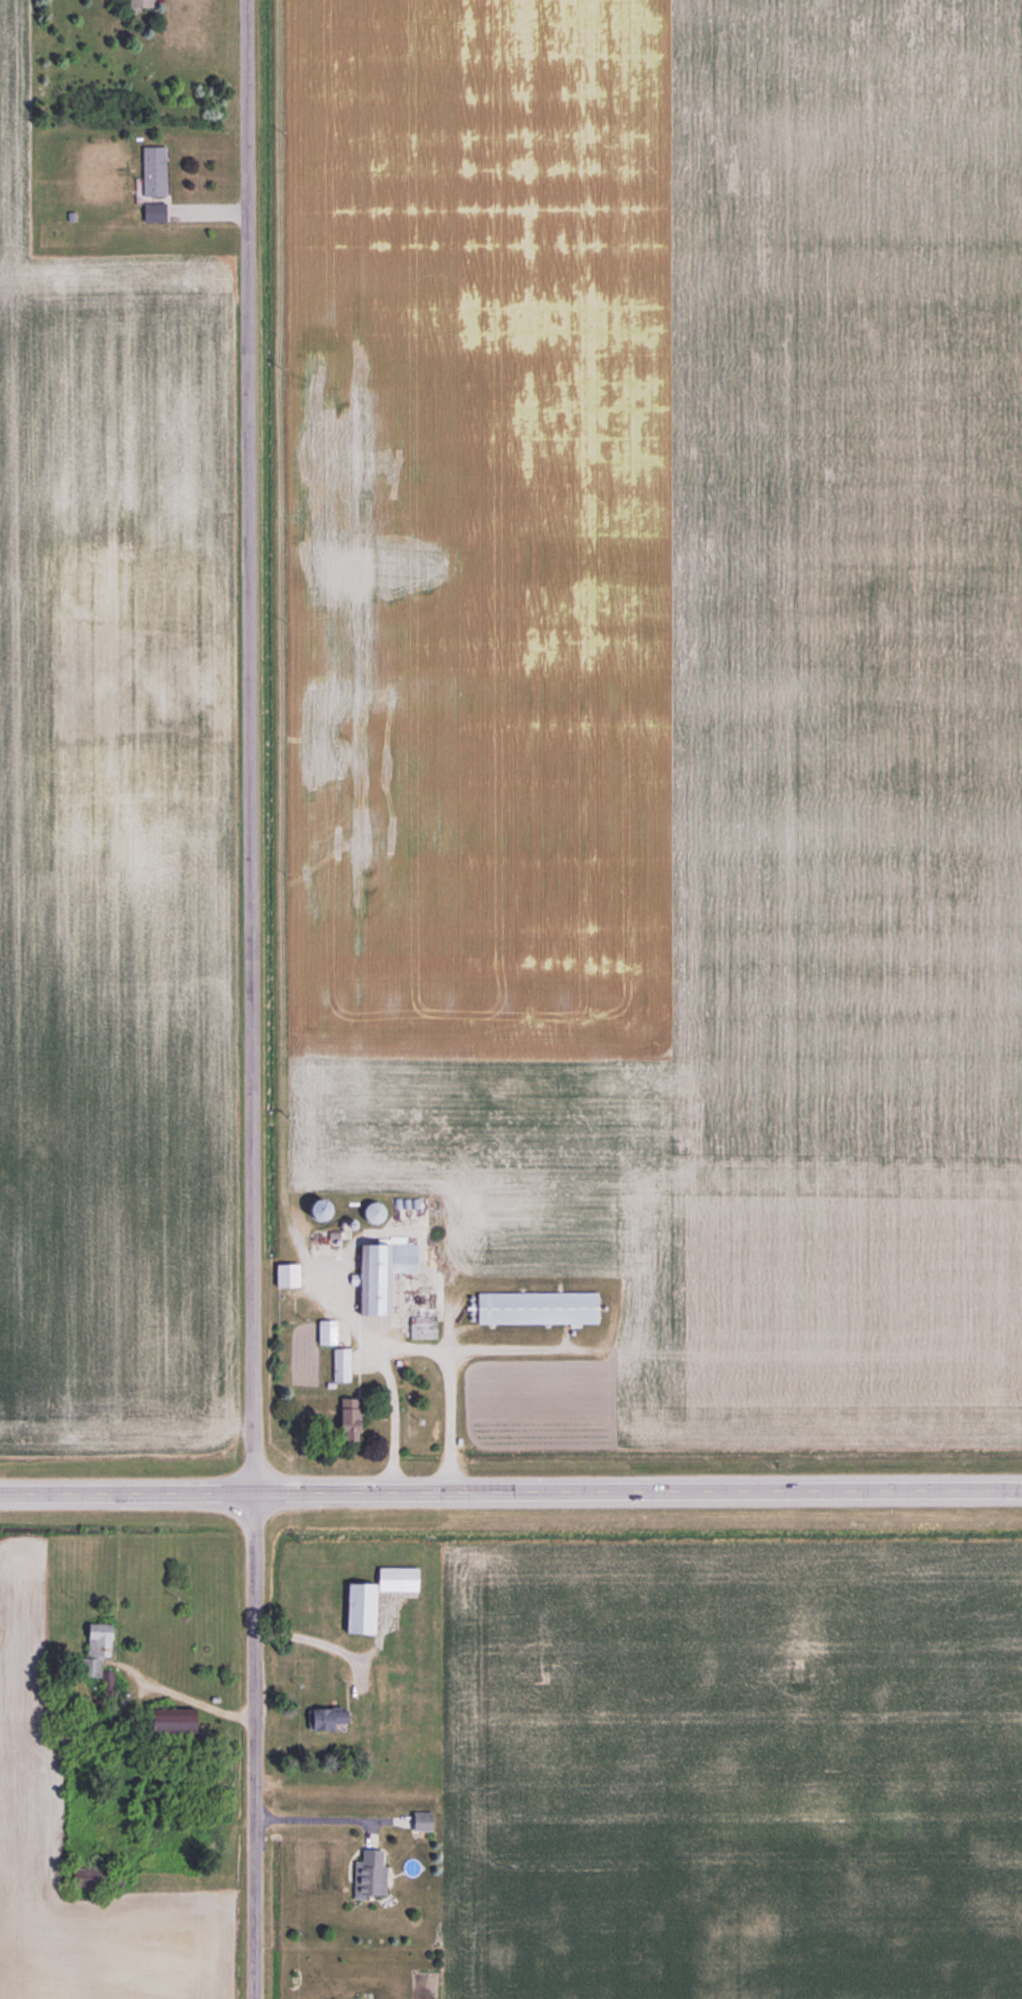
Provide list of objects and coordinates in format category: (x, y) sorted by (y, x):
building: (138, 4)
building: (151, 171)
road: (251, 746)
building: (314, 1208)
building: (370, 1212)
building: (379, 1274)
building: (283, 1292)
building: (535, 1307)
building: (421, 1327)
building: (324, 1331)
road: (414, 1348)
building: (340, 1364)
building: (345, 1419)
road: (510, 1492)
building: (394, 1578)
building: (356, 1608)
building: (94, 1649)
building: (324, 1718)
building: (166, 1724)
road: (255, 1745)
road: (314, 1818)
building: (419, 1820)
building: (366, 1872)

